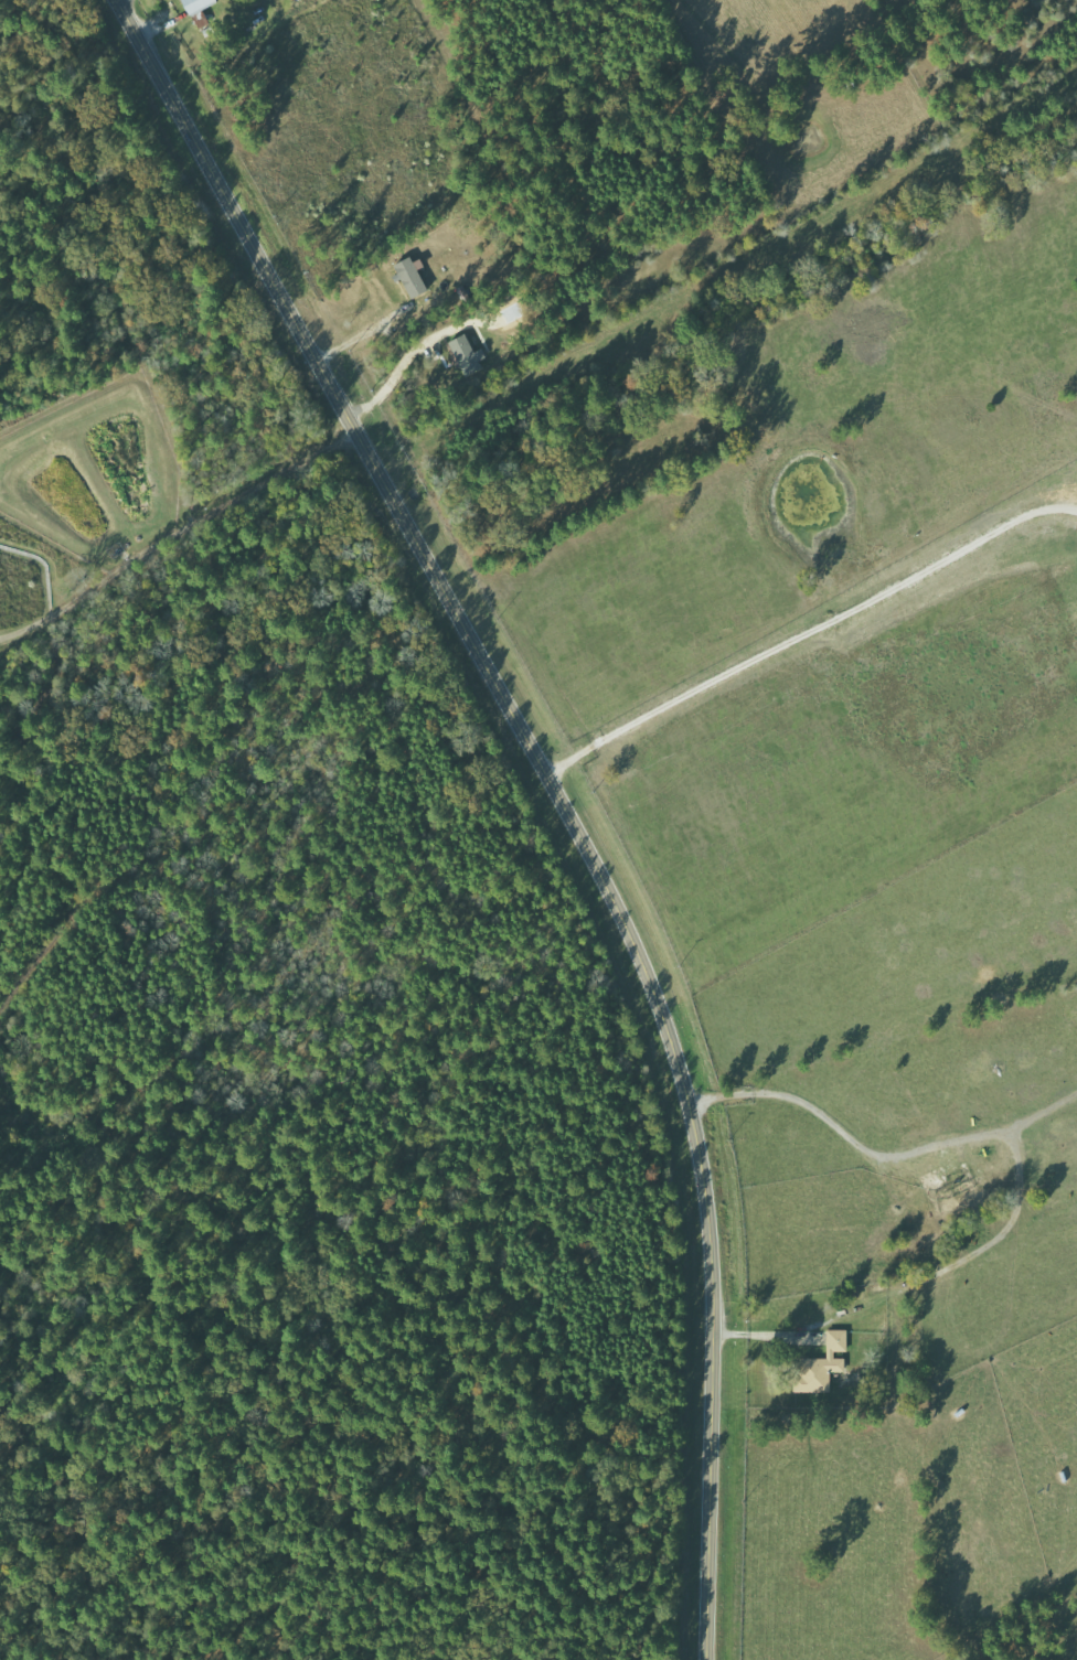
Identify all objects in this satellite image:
building: (201, 4)
building: (413, 277)
building: (469, 355)
road: (51, 770)
road: (550, 791)
park: (280, 1008)
building: (824, 1364)
road: (51, 1487)

